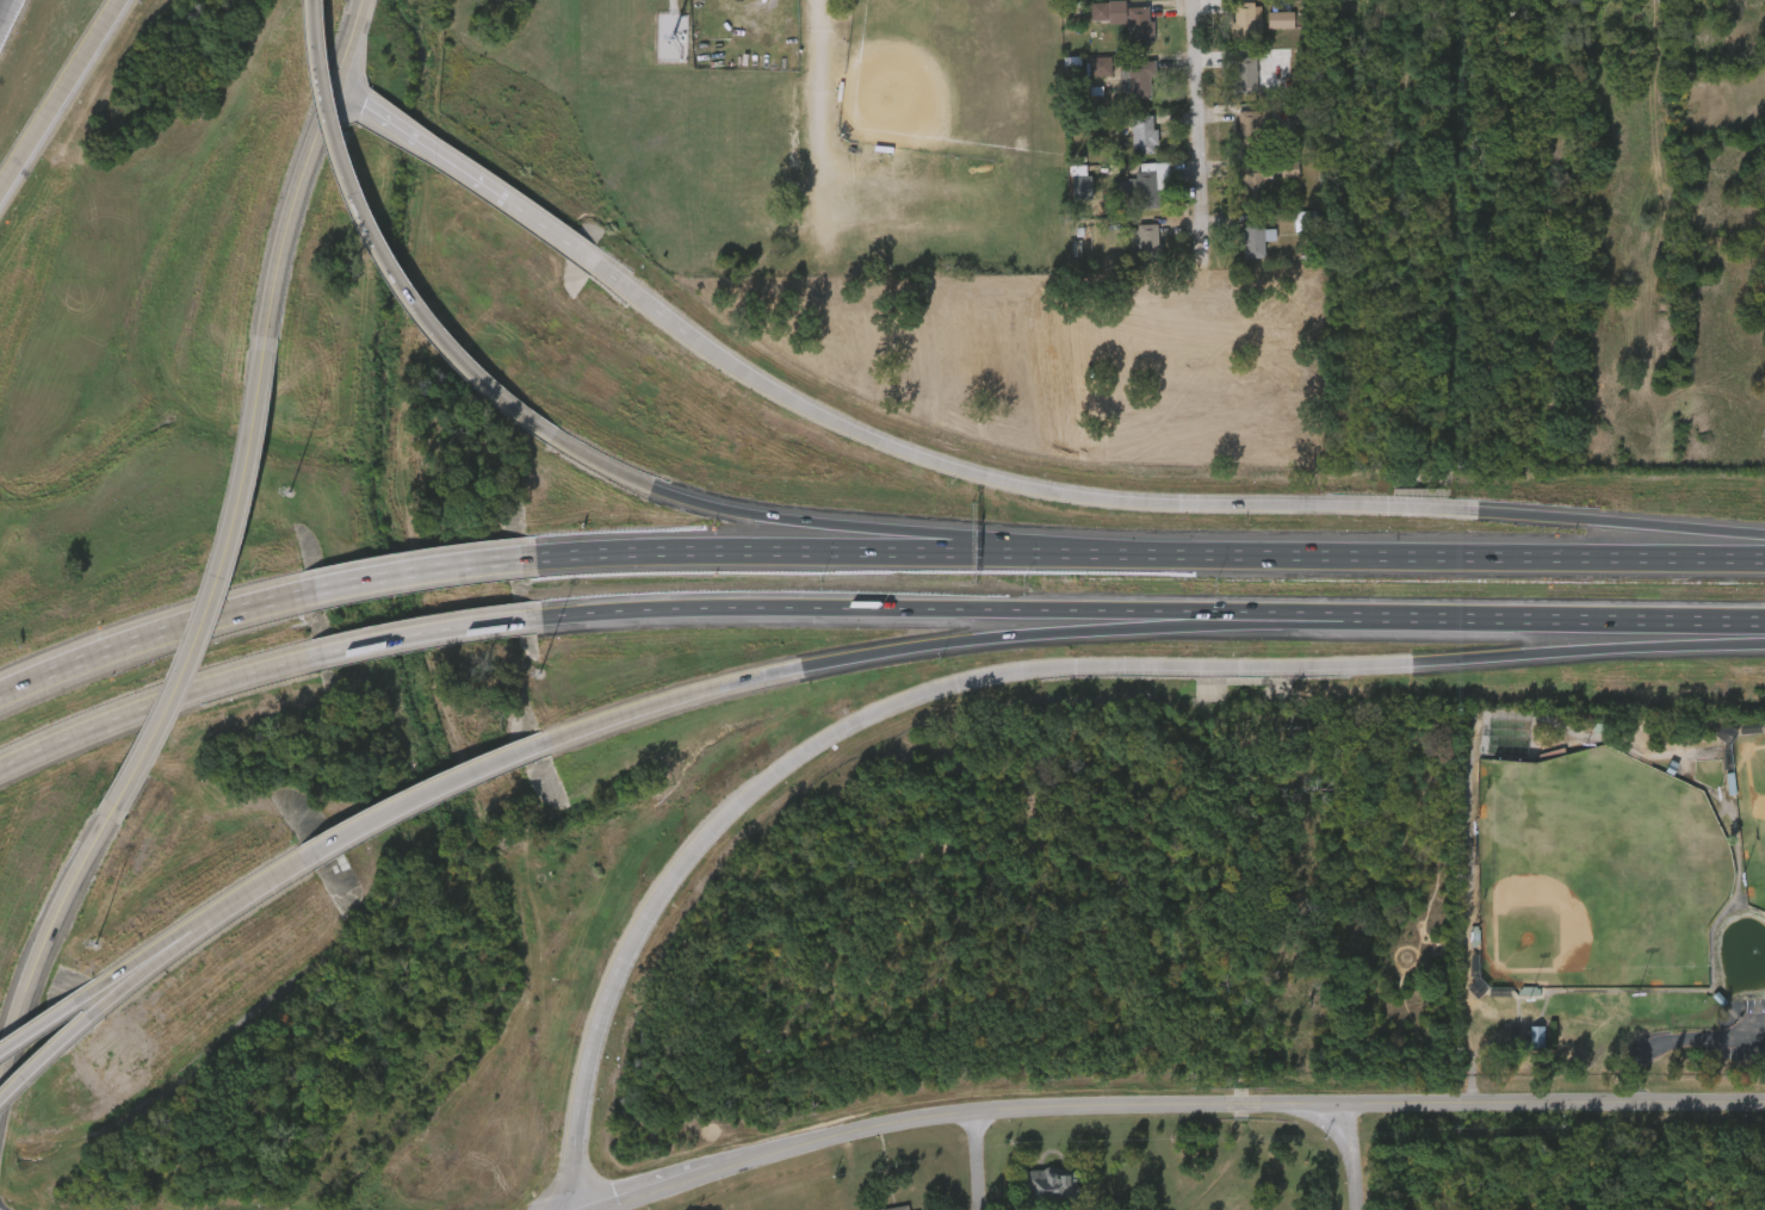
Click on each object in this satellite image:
building: (706, 1)
building: (1119, 1)
road: (349, 15)
building: (1240, 24)
building: (1138, 27)
building: (1283, 30)
building: (1108, 32)
building: (1263, 32)
building: (1225, 35)
building: (1244, 76)
building: (1082, 79)
building: (1138, 80)
building: (1227, 88)
building: (1119, 92)
road: (803, 93)
road: (58, 94)
road: (345, 95)
road: (1191, 106)
building: (1252, 129)
building: (1140, 131)
building: (1230, 138)
building: (1126, 147)
building: (1288, 170)
building: (1252, 181)
road: (296, 190)
building: (1144, 190)
road: (493, 192)
building: (1234, 197)
road: (379, 240)
building: (1255, 240)
building: (1142, 243)
building: (1127, 250)
building: (1238, 252)
building: (1312, 294)
building: (1295, 305)
road: (1170, 501)
road: (842, 522)
road: (842, 550)
road: (1463, 554)
road: (419, 571)
road: (222, 588)
road: (747, 608)
road: (1309, 610)
road: (1709, 619)
road: (1349, 623)
road: (181, 625)
road: (423, 632)
road: (787, 669)
road: (1008, 670)
road: (26, 681)
road: (157, 702)
road: (425, 795)
road: (260, 886)
park: (1618, 899)
road: (48, 930)
road: (141, 961)
road: (147, 968)
road: (39, 1028)
road: (1676, 1038)
building: (1519, 1049)
road: (45, 1063)
road: (1184, 1105)
road: (1344, 1158)
road: (972, 1161)
building: (1049, 1185)
building: (897, 1208)

